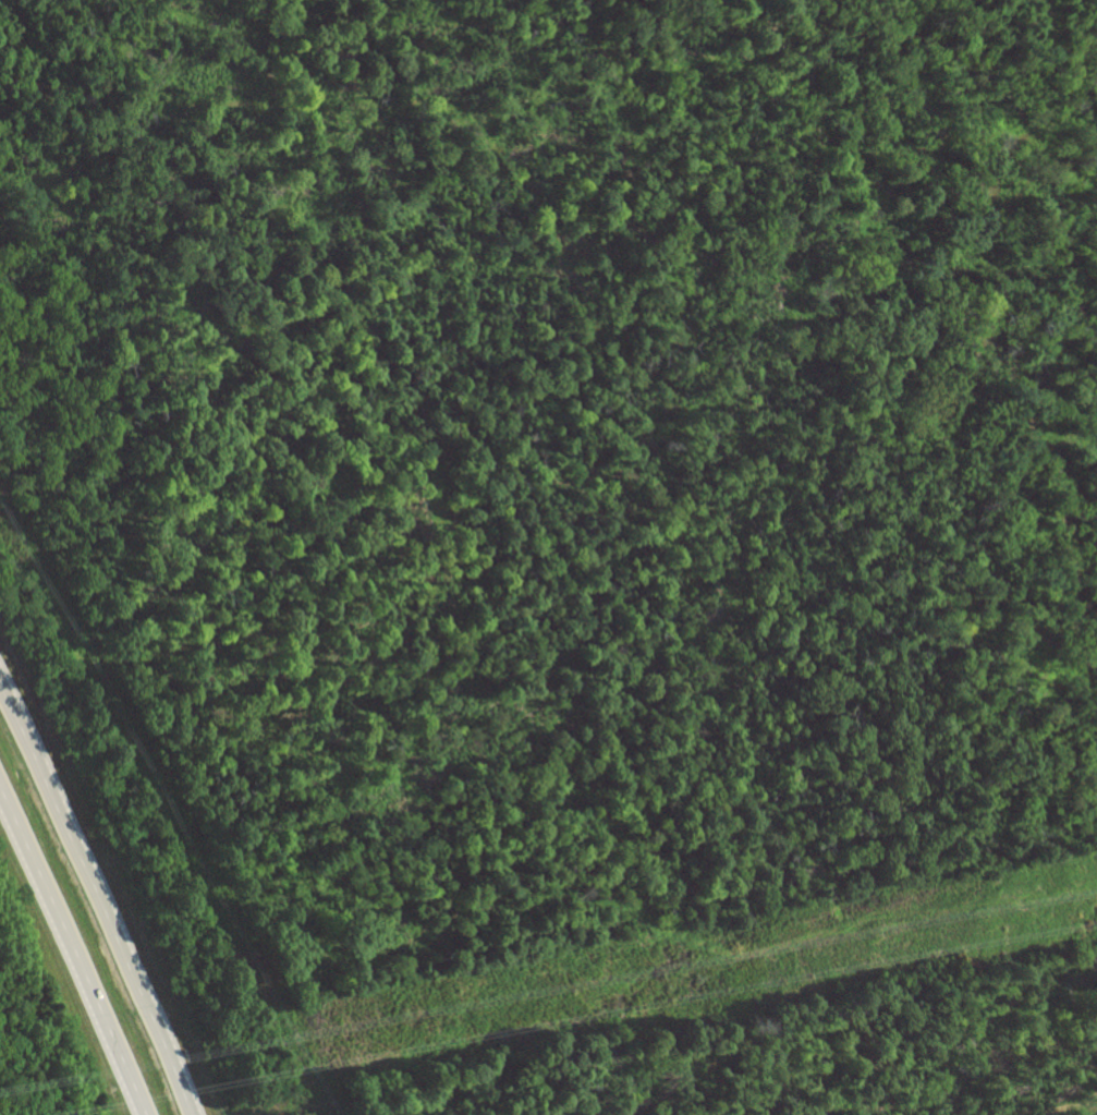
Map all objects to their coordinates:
road: (170, 808)
road: (102, 895)
road: (73, 955)

